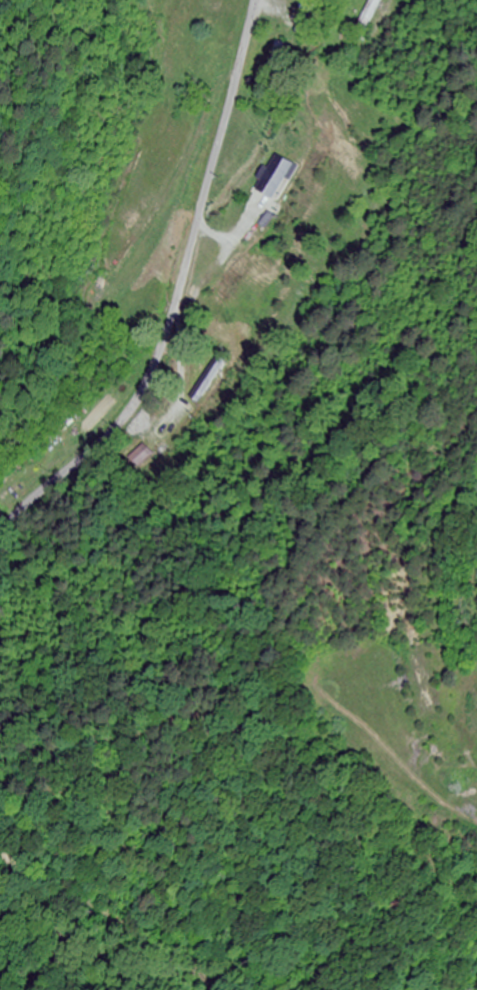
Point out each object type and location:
building: (368, 16)
building: (304, 23)
building: (278, 63)
road: (177, 295)
building: (210, 377)
building: (143, 458)

